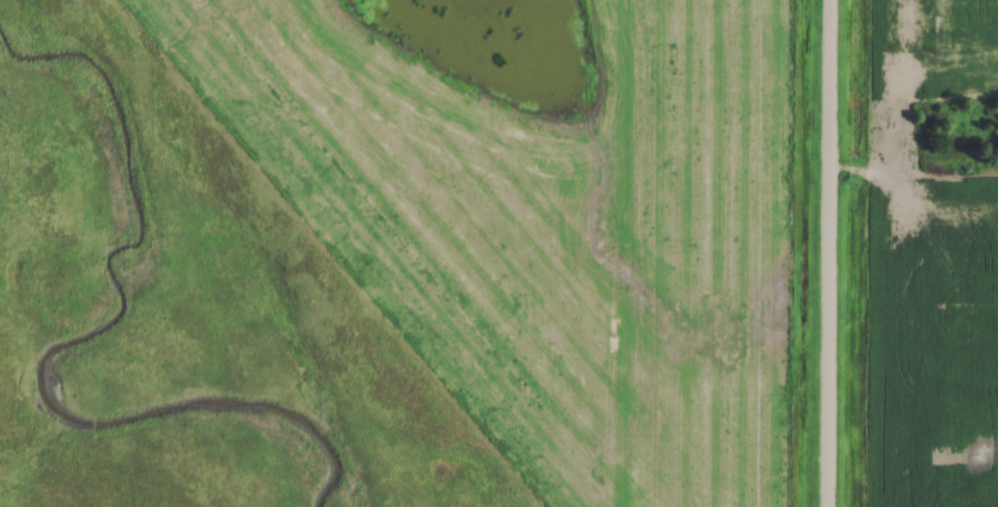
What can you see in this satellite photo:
road: (832, 253)

